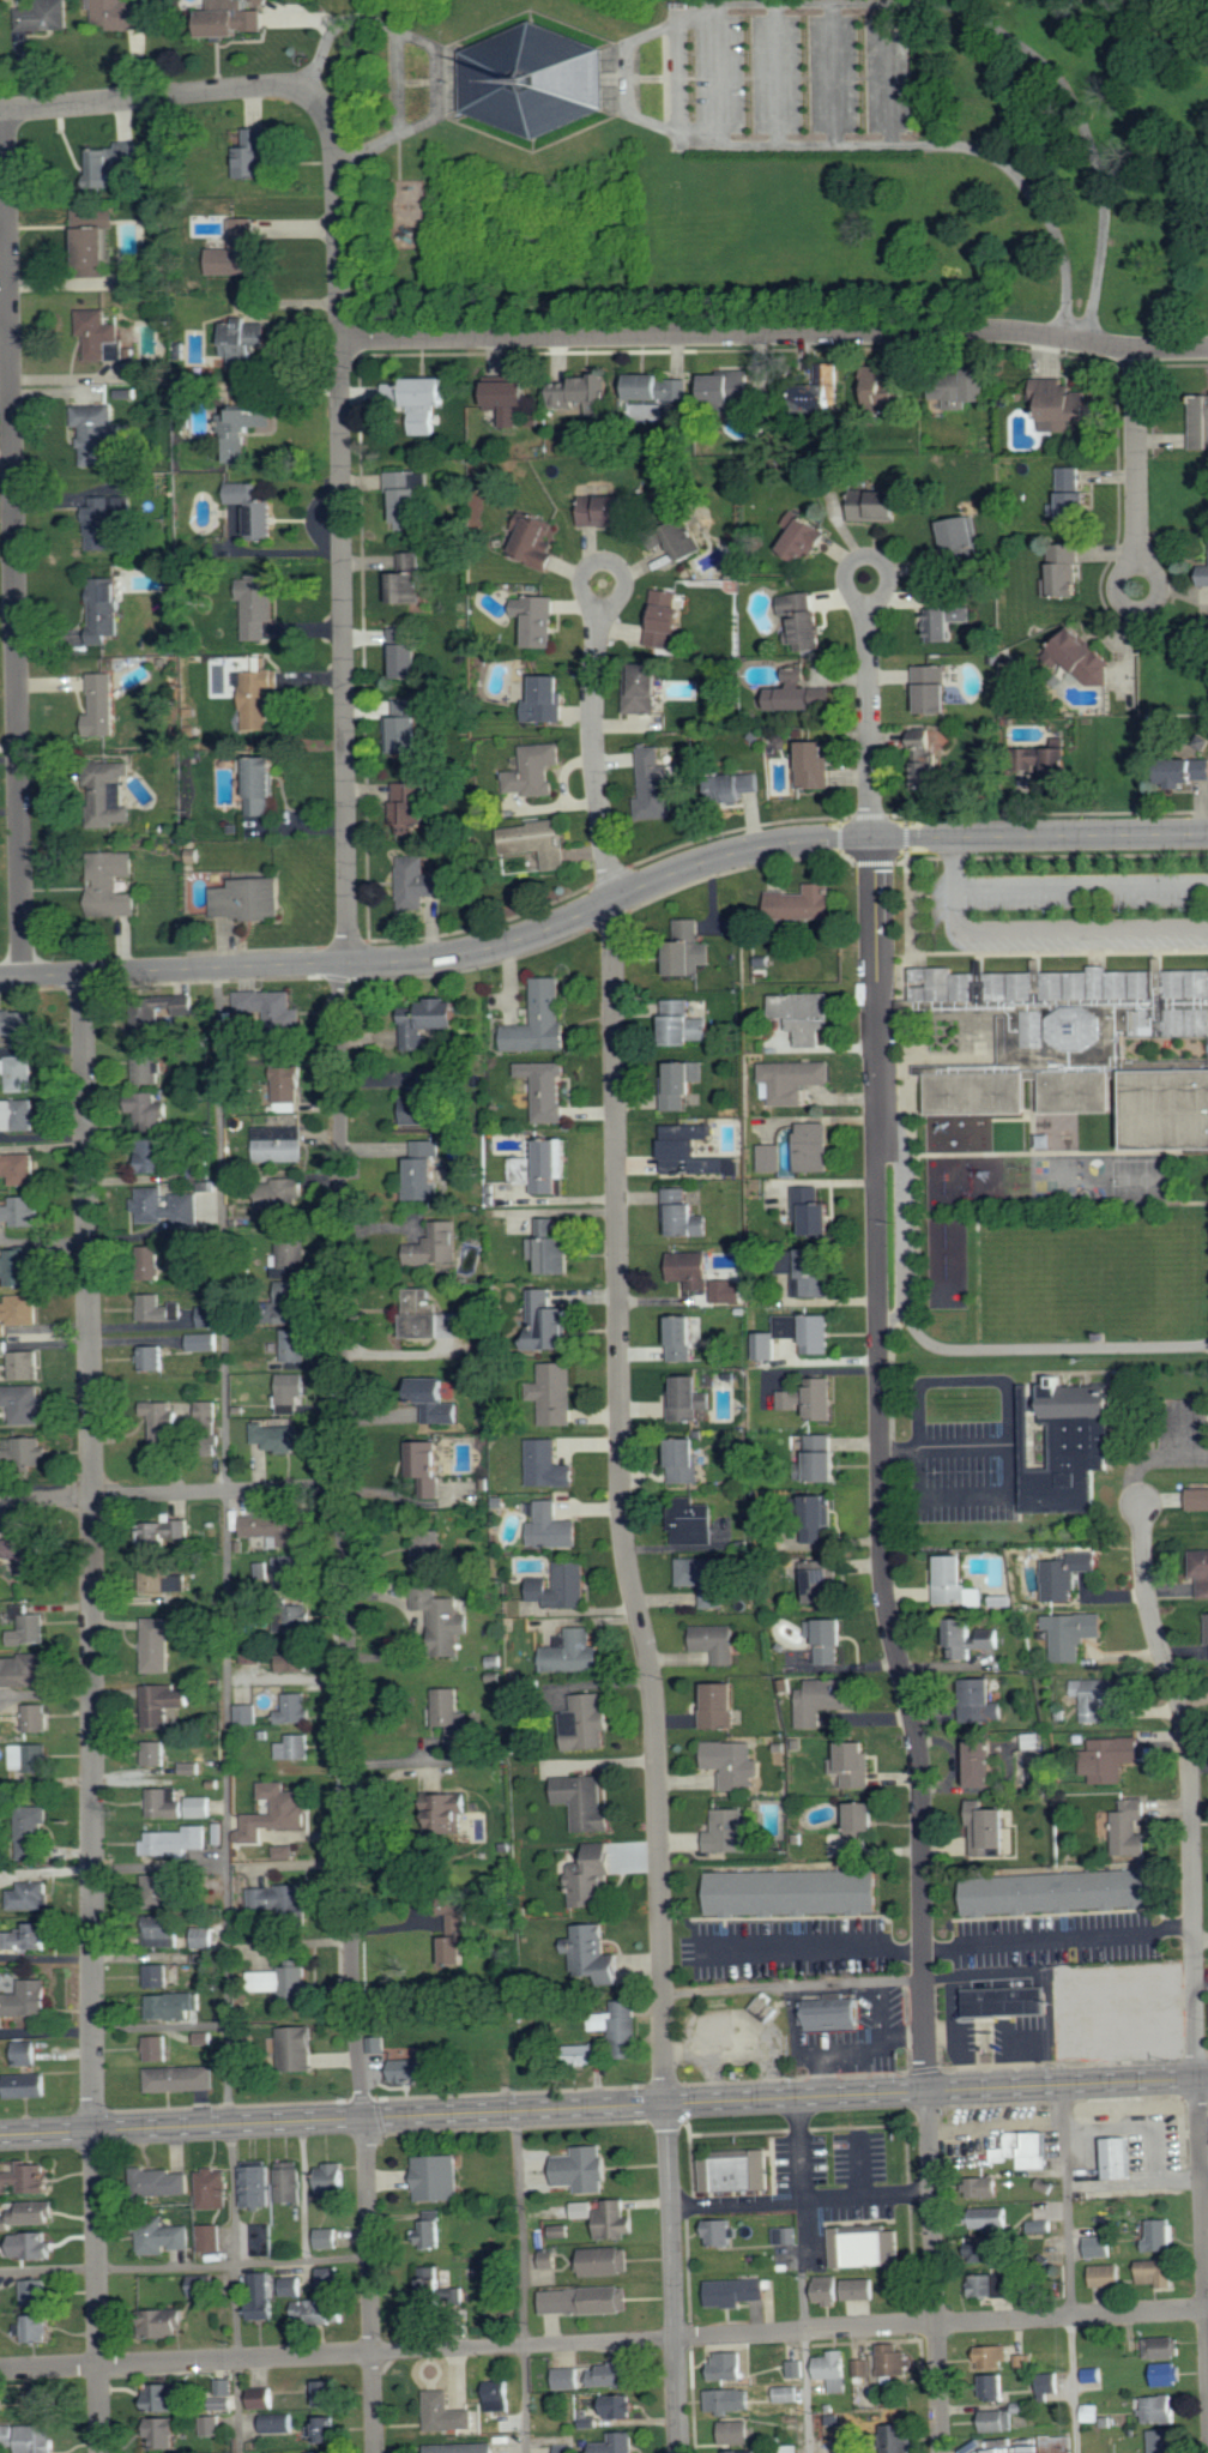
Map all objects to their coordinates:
building: (265, 1)
road: (684, 2)
building: (123, 14)
building: (43, 16)
building: (232, 18)
road: (433, 48)
road: (626, 77)
building: (530, 78)
road: (399, 82)
road: (152, 97)
building: (254, 155)
building: (110, 163)
road: (337, 212)
building: (96, 241)
building: (241, 252)
building: (97, 332)
road: (774, 334)
building: (242, 343)
road: (479, 351)
building: (659, 387)
building: (729, 388)
building: (826, 388)
building: (965, 390)
building: (887, 391)
building: (395, 392)
building: (586, 393)
building: (428, 399)
building: (513, 399)
building: (1061, 404)
building: (644, 412)
building: (1200, 421)
building: (243, 429)
building: (99, 433)
building: (1077, 498)
building: (406, 499)
building: (878, 505)
building: (255, 507)
building: (609, 511)
building: (105, 520)
building: (234, 525)
road: (1137, 526)
building: (961, 535)
building: (804, 537)
building: (536, 538)
building: (678, 538)
road: (14, 546)
building: (1065, 573)
building: (411, 579)
building: (259, 605)
building: (105, 610)
building: (668, 616)
building: (947, 617)
building: (538, 620)
building: (804, 620)
road: (868, 650)
building: (406, 653)
building: (1081, 657)
road: (593, 685)
building: (646, 687)
building: (934, 688)
building: (801, 693)
building: (259, 698)
building: (548, 700)
building: (102, 705)
building: (405, 728)
building: (926, 760)
building: (1049, 763)
building: (816, 765)
building: (534, 770)
building: (1188, 772)
building: (265, 784)
building: (656, 784)
building: (741, 785)
building: (113, 794)
building: (411, 803)
road: (778, 821)
building: (538, 842)
road: (952, 856)
road: (1079, 884)
building: (418, 885)
building: (113, 886)
building: (250, 899)
road: (604, 903)
building: (803, 904)
road: (1055, 930)
building: (690, 947)
building: (272, 1007)
building: (445, 1013)
building: (165, 1015)
building: (807, 1015)
building: (540, 1021)
building: (684, 1024)
building: (18, 1025)
building: (415, 1030)
building: (1075, 1047)
building: (147, 1066)
building: (17, 1074)
building: (795, 1080)
building: (683, 1084)
building: (288, 1087)
building: (544, 1089)
building: (427, 1101)
building: (151, 1113)
building: (17, 1115)
building: (279, 1144)
building: (815, 1147)
building: (689, 1150)
building: (155, 1156)
building: (773, 1158)
building: (546, 1167)
building: (19, 1168)
building: (425, 1171)
park: (1146, 1179)
building: (280, 1199)
building: (168, 1209)
building: (815, 1211)
building: (22, 1212)
building: (685, 1215)
road: (901, 1229)
road: (44, 1240)
building: (436, 1246)
building: (198, 1247)
building: (551, 1248)
building: (290, 1254)
building: (149, 1261)
building: (20, 1266)
building: (690, 1270)
park: (1093, 1272)
building: (815, 1274)
building: (730, 1292)
building: (292, 1302)
building: (22, 1310)
building: (158, 1310)
building: (207, 1318)
building: (431, 1318)
building: (549, 1322)
building: (4, 1330)
building: (797, 1336)
building: (685, 1339)
building: (205, 1343)
building: (295, 1345)
road: (1045, 1346)
building: (4, 1348)
building: (153, 1358)
building: (26, 1367)
building: (291, 1392)
building: (556, 1394)
road: (343, 1397)
building: (810, 1399)
building: (690, 1400)
building: (437, 1402)
building: (24, 1404)
building: (207, 1412)
building: (165, 1424)
building: (278, 1438)
building: (1063, 1444)
road: (1013, 1448)
road: (965, 1449)
building: (30, 1451)
building: (826, 1460)
building: (688, 1461)
building: (549, 1465)
road: (881, 1465)
building: (428, 1467)
road: (171, 1494)
building: (1198, 1499)
road: (620, 1503)
building: (821, 1519)
building: (695, 1523)
building: (552, 1527)
building: (278, 1529)
building: (164, 1533)
building: (427, 1550)
building: (25, 1553)
building: (261, 1569)
building: (290, 1571)
building: (1203, 1572)
building: (1068, 1574)
building: (705, 1578)
building: (163, 1579)
building: (823, 1580)
building: (955, 1581)
building: (563, 1586)
building: (296, 1617)
building: (443, 1619)
building: (1207, 1621)
building: (29, 1626)
building: (1073, 1633)
building: (829, 1637)
building: (972, 1638)
building: (717, 1641)
building: (157, 1644)
building: (255, 1652)
building: (574, 1652)
building: (295, 1657)
building: (23, 1670)
building: (1098, 1695)
building: (826, 1699)
building: (983, 1699)
building: (164, 1702)
building: (719, 1704)
building: (297, 1707)
road: (228, 1711)
road: (93, 1713)
building: (247, 1713)
building: (38, 1717)
building: (453, 1718)
building: (590, 1719)
building: (1031, 1741)
building: (296, 1746)
building: (156, 1753)
building: (32, 1756)
building: (1110, 1758)
building: (735, 1762)
building: (984, 1762)
building: (854, 1764)
building: (192, 1767)
building: (586, 1801)
building: (165, 1802)
building: (199, 1807)
building: (277, 1812)
building: (465, 1824)
building: (865, 1824)
building: (1130, 1827)
building: (32, 1830)
building: (990, 1830)
building: (733, 1832)
building: (174, 1842)
building: (286, 1851)
building: (594, 1875)
building: (165, 1890)
building: (1062, 1891)
building: (795, 1892)
building: (31, 1895)
building: (280, 1897)
road: (1194, 1927)
building: (165, 1930)
building: (461, 1934)
building: (28, 1937)
building: (205, 1937)
road: (1058, 1937)
building: (593, 1949)
road: (813, 1951)
building: (157, 1976)
building: (284, 1982)
building: (1002, 1983)
road: (795, 1984)
building: (26, 1999)
building: (1009, 2001)
building: (174, 2005)
building: (768, 2007)
building: (832, 2013)
building: (621, 2025)
building: (204, 2038)
building: (158, 2048)
building: (298, 2048)
building: (26, 2053)
building: (591, 2053)
building: (407, 2071)
building: (181, 2078)
building: (28, 2085)
road: (604, 2107)
road: (1203, 2127)
building: (1027, 2150)
building: (1121, 2157)
building: (584, 2169)
building: (738, 2170)
road: (1204, 2176)
building: (336, 2177)
building: (439, 2177)
building: (26, 2178)
building: (164, 2182)
building: (291, 2182)
building: (256, 2186)
building: (983, 2187)
building: (215, 2189)
road: (1204, 2189)
road: (801, 2201)
building: (585, 2210)
building: (34, 2212)
building: (991, 2217)
building: (617, 2220)
building: (431, 2229)
building: (560, 2231)
building: (721, 2232)
building: (787, 2235)
building: (1159, 2235)
building: (163, 2237)
building: (328, 2237)
building: (211, 2238)
building: (264, 2240)
building: (31, 2246)
building: (866, 2247)
building: (1100, 2247)
building: (987, 2250)
building: (608, 2260)
road: (185, 2264)
road: (1068, 2268)
road: (934, 2272)
building: (1158, 2272)
building: (1107, 2274)
road: (802, 2276)
road: (674, 2278)
building: (331, 2279)
road: (521, 2282)
building: (204, 2285)
building: (991, 2285)
building: (292, 2286)
building: (434, 2286)
building: (862, 2289)
building: (828, 2290)
building: (737, 2291)
building: (37, 2292)
building: (262, 2295)
building: (587, 2301)
building: (318, 2310)
building: (167, 2322)
building: (38, 2327)
road: (604, 2341)
building: (1162, 2347)
building: (992, 2357)
building: (895, 2359)
building: (1026, 2361)
building: (730, 2365)
building: (797, 2368)
building: (862, 2368)
building: (834, 2369)
building: (1168, 2374)
building: (614, 2375)
building: (1094, 2375)
building: (567, 2379)
building: (1051, 2382)
building: (993, 2385)
building: (225, 2391)
building: (328, 2393)
building: (786, 2394)
building: (500, 2395)
building: (167, 2397)
building: (265, 2398)
building: (730, 2400)
building: (43, 2401)
building: (621, 2406)
building: (1159, 2409)
building: (447, 2412)
building: (1095, 2416)
building: (590, 2418)
building: (997, 2421)
building: (279, 2423)
building: (212, 2425)
building: (325, 2429)
building: (164, 2433)
building: (735, 2433)
building: (38, 2439)
building: (902, 2439)
building: (1164, 2441)
building: (617, 2443)
building: (463, 2448)
building: (567, 2448)
building: (332, 2452)
building: (741, 2452)
building: (847, 2452)

